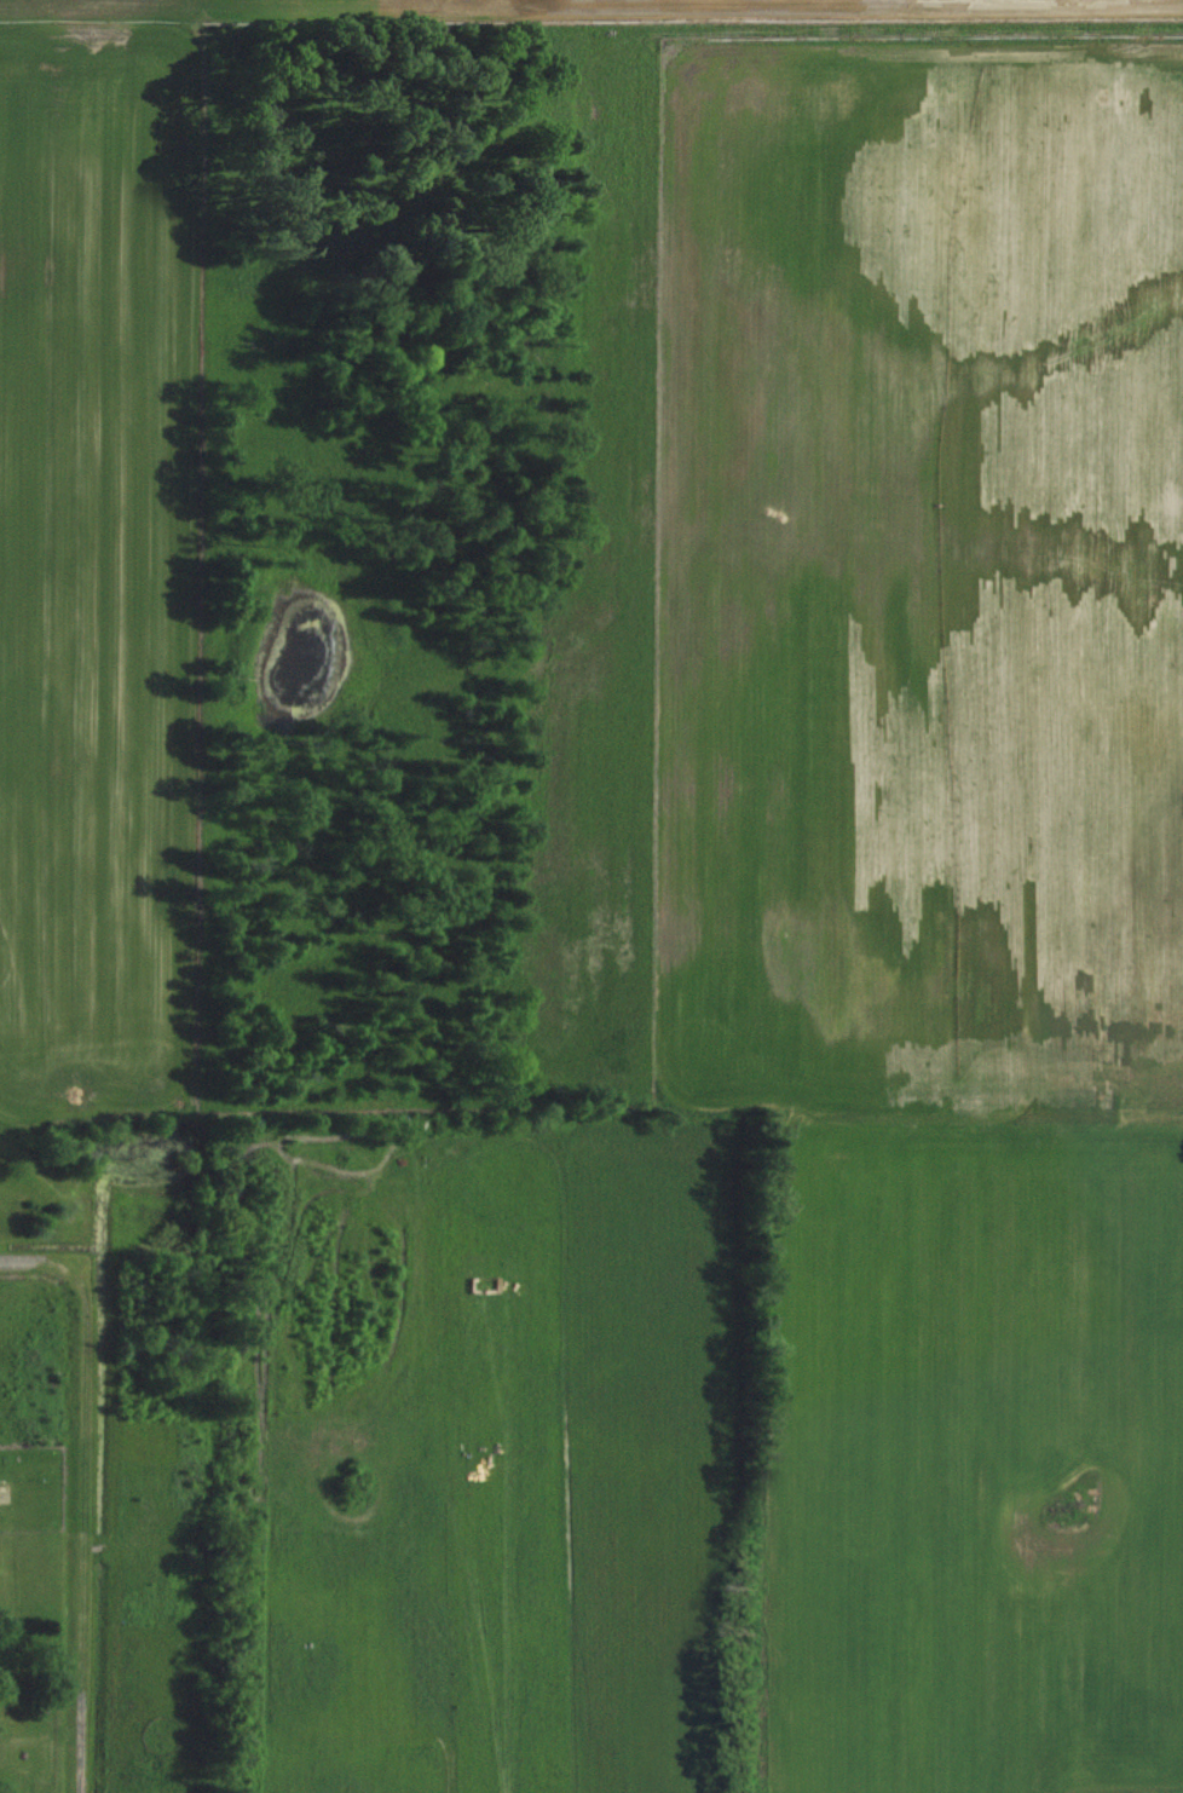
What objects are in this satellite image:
crop: (674, 555)
road: (42, 1261)
road: (85, 1527)

